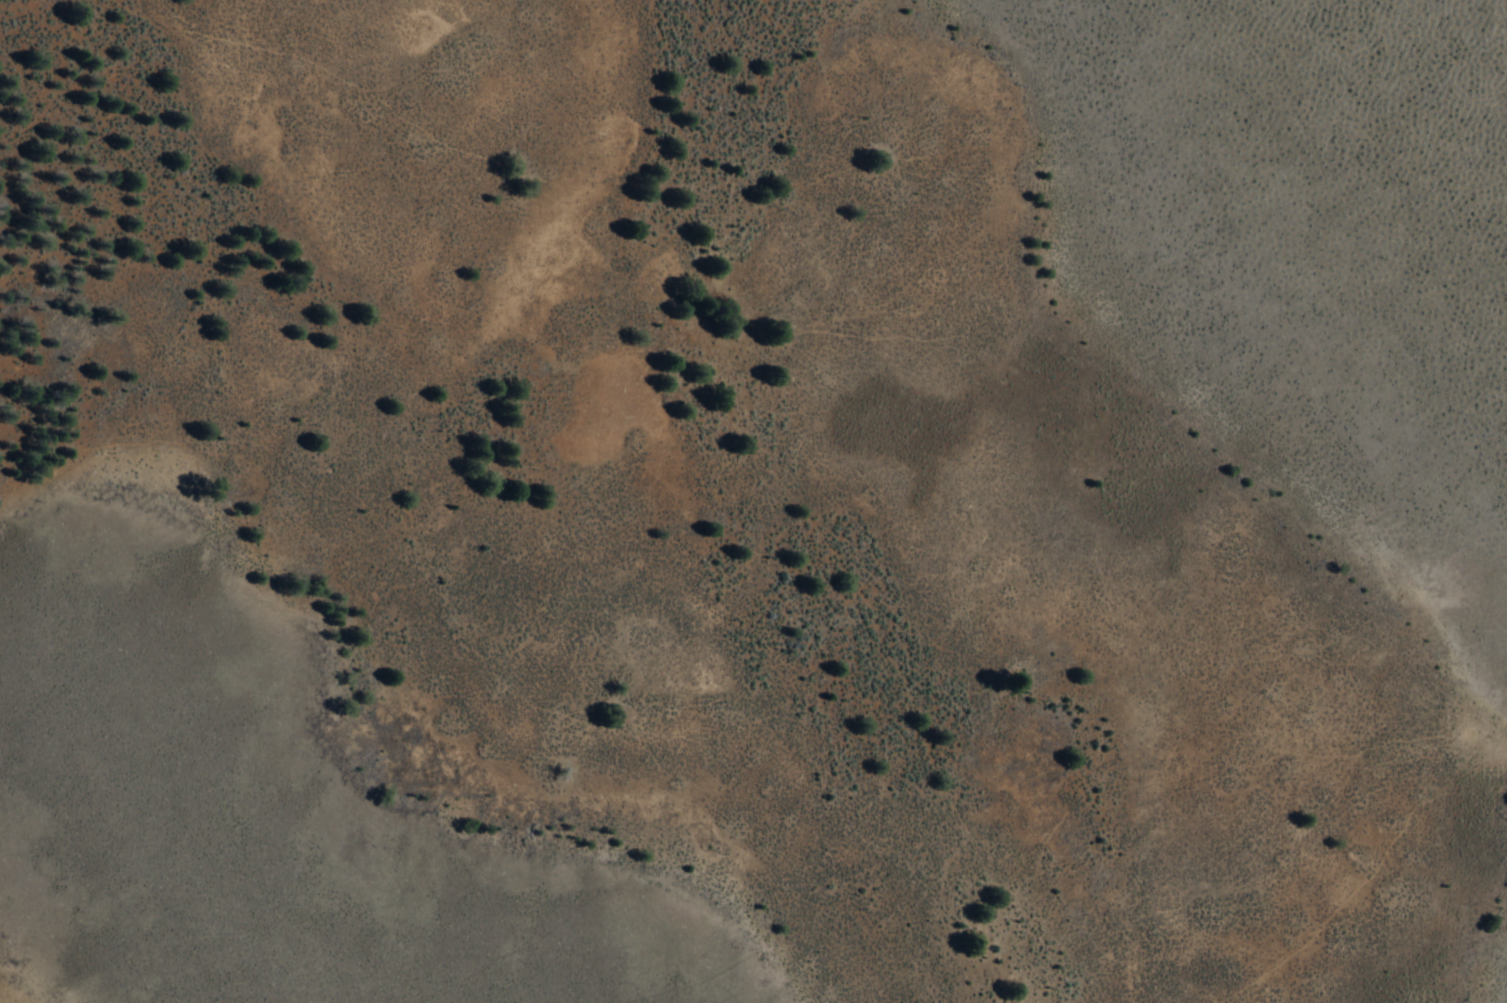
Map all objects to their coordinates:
road: (274, 706)

